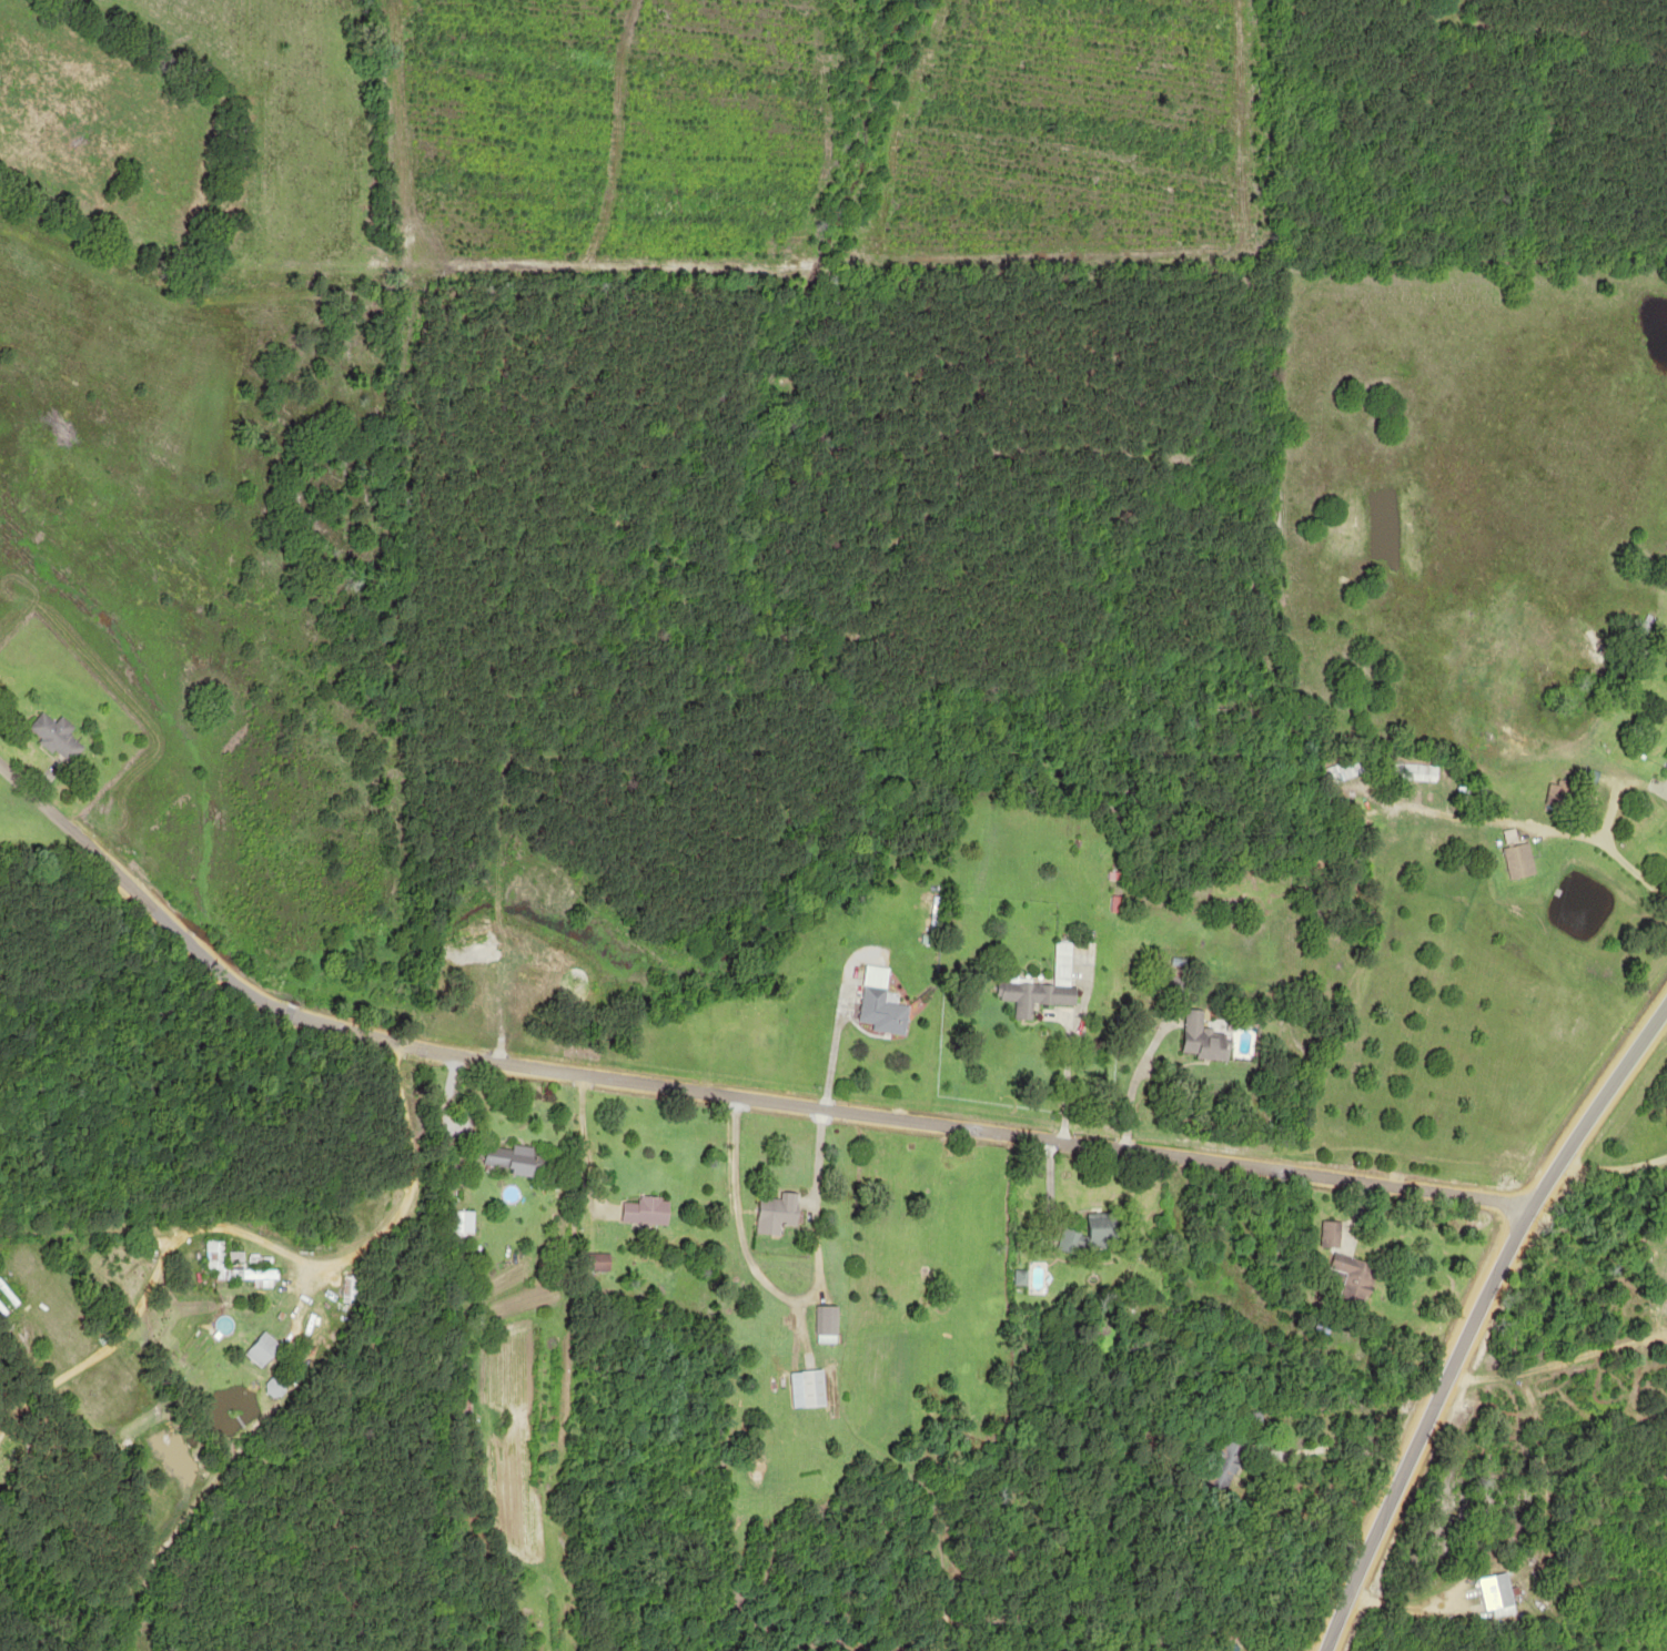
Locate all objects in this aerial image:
building: (50, 736)
building: (1664, 766)
building: (1342, 767)
building: (1407, 771)
building: (1508, 855)
building: (1034, 985)
building: (873, 1003)
building: (1192, 1037)
road: (717, 1083)
building: (501, 1157)
building: (639, 1208)
building: (769, 1212)
building: (457, 1220)
building: (1081, 1232)
building: (1322, 1232)
building: (211, 1258)
building: (592, 1260)
building: (1344, 1276)
building: (346, 1288)
road: (1473, 1300)
building: (820, 1323)
building: (257, 1348)
building: (800, 1387)
building: (1218, 1460)
building: (1487, 1592)
building: (1220, 1645)

